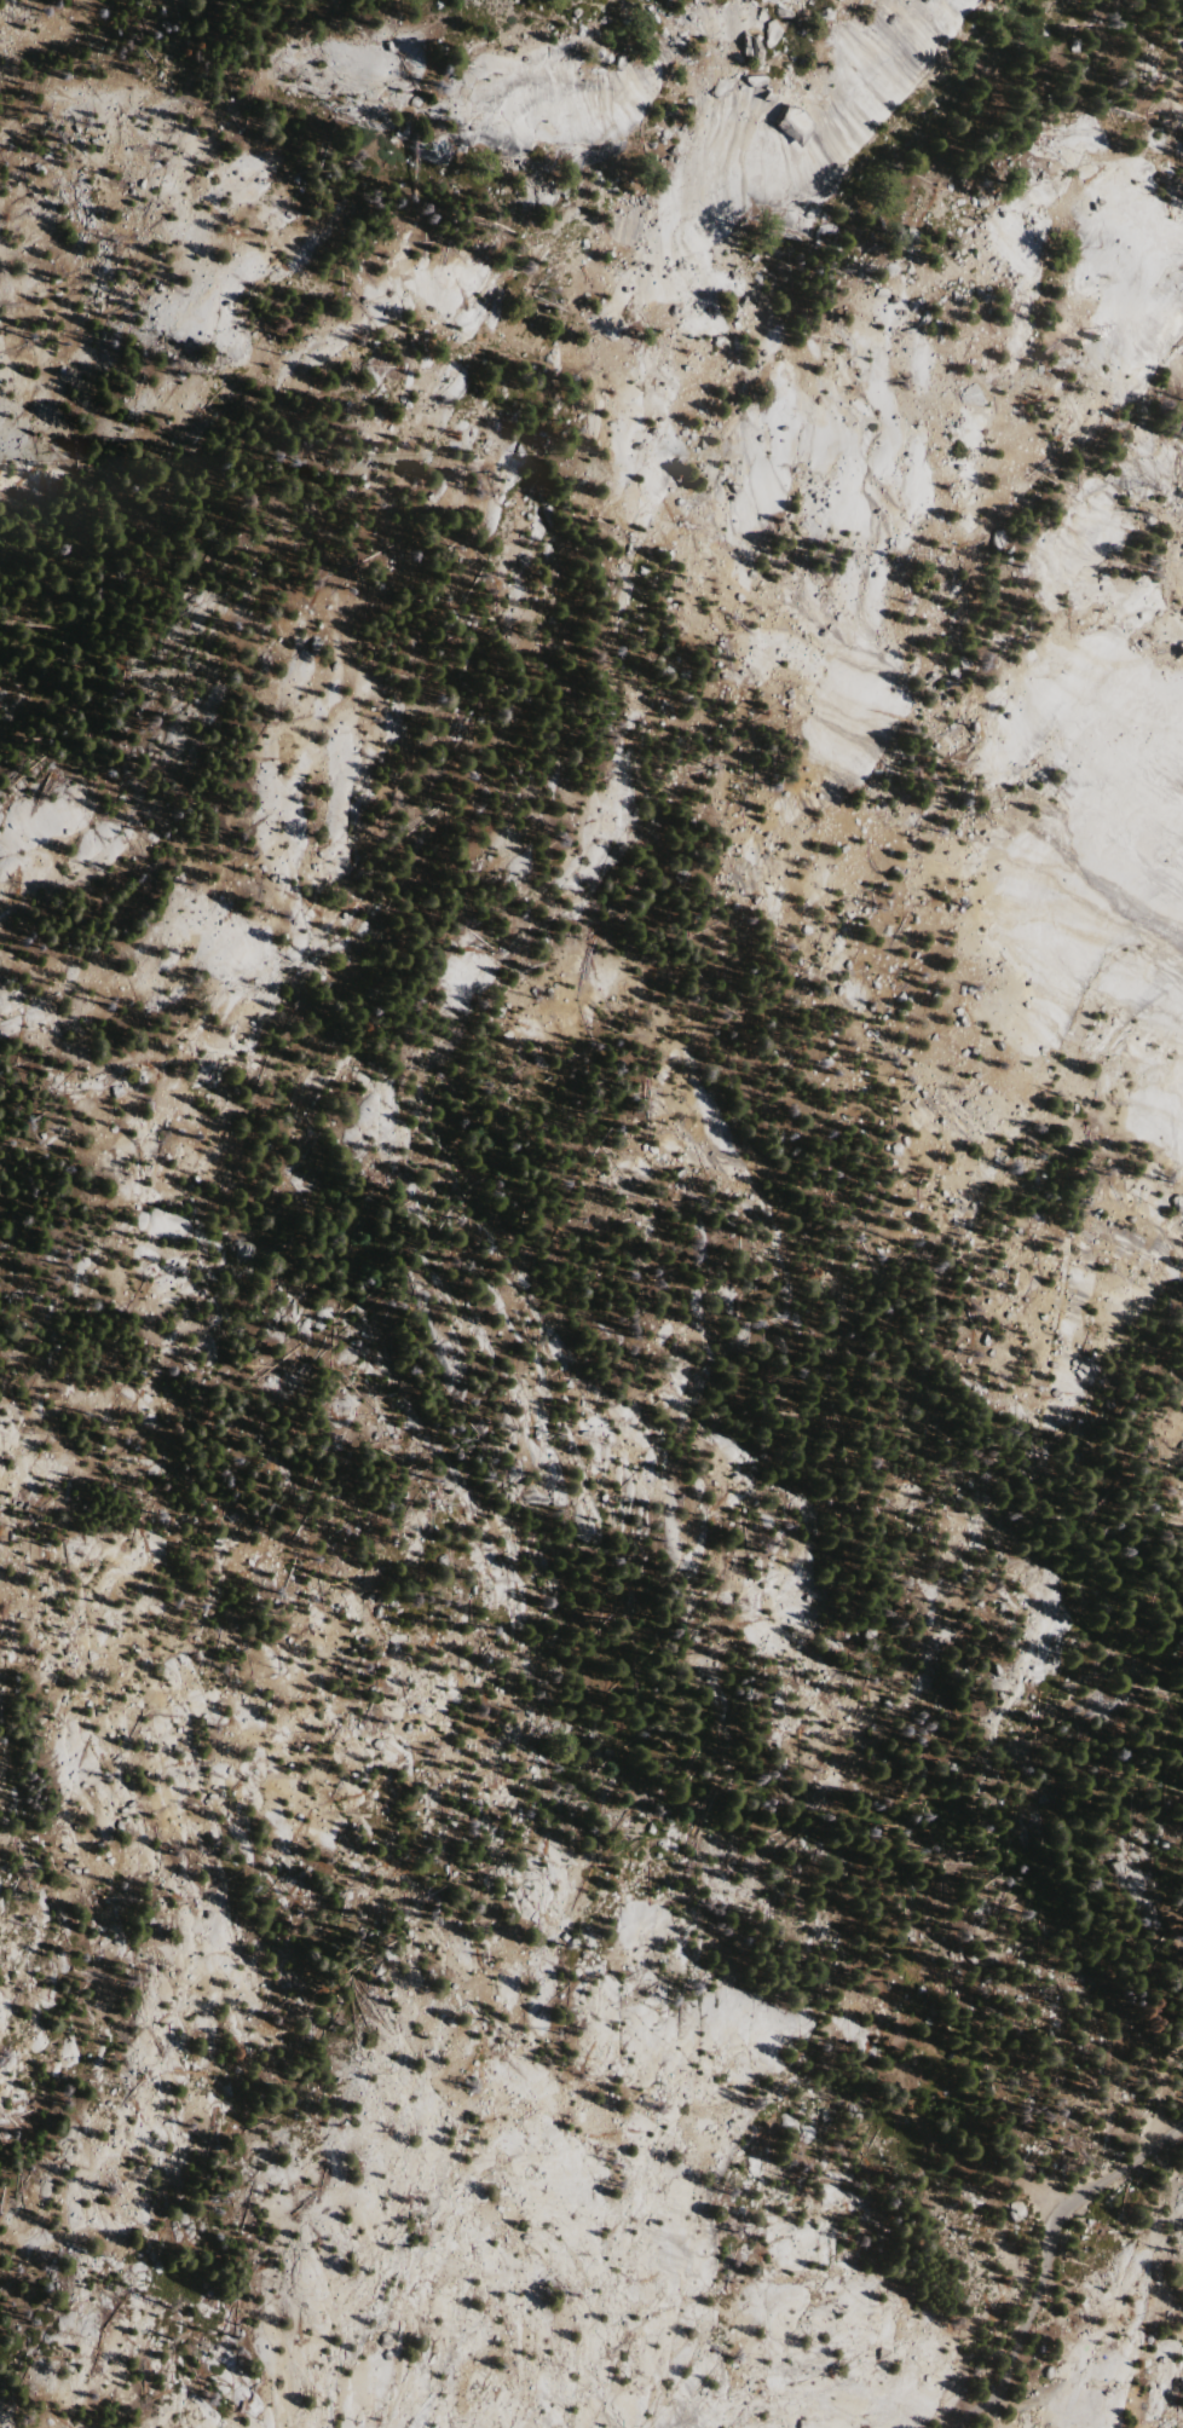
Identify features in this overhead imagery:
road: (1176, 1920)
road: (1160, 2082)
road: (1043, 2247)

